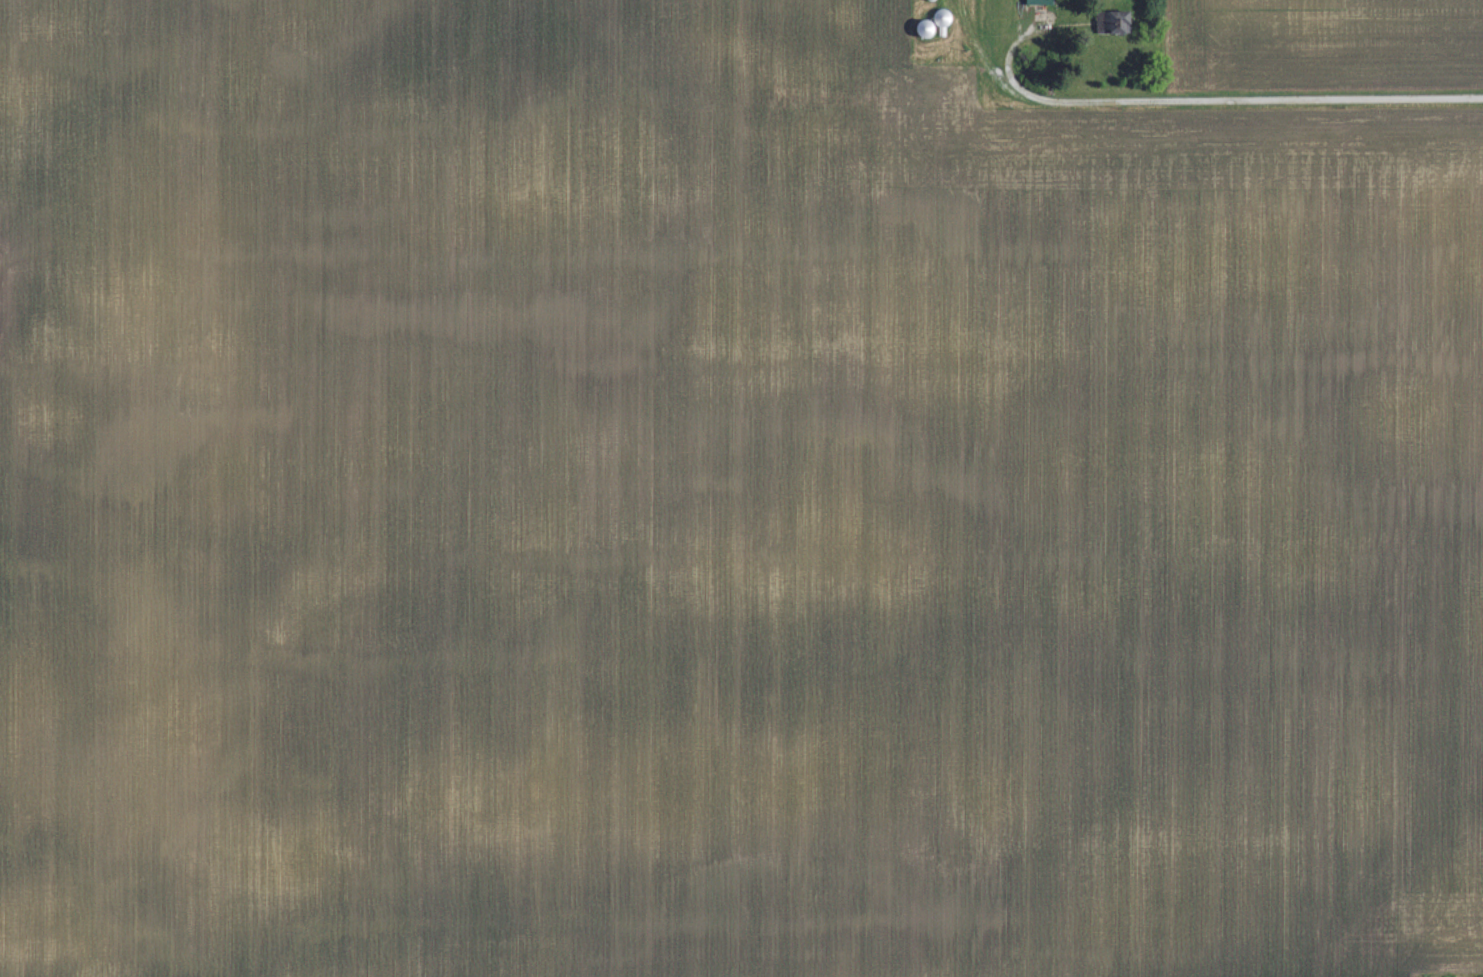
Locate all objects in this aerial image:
building: (1039, 2)
building: (1114, 19)
road: (1219, 98)

